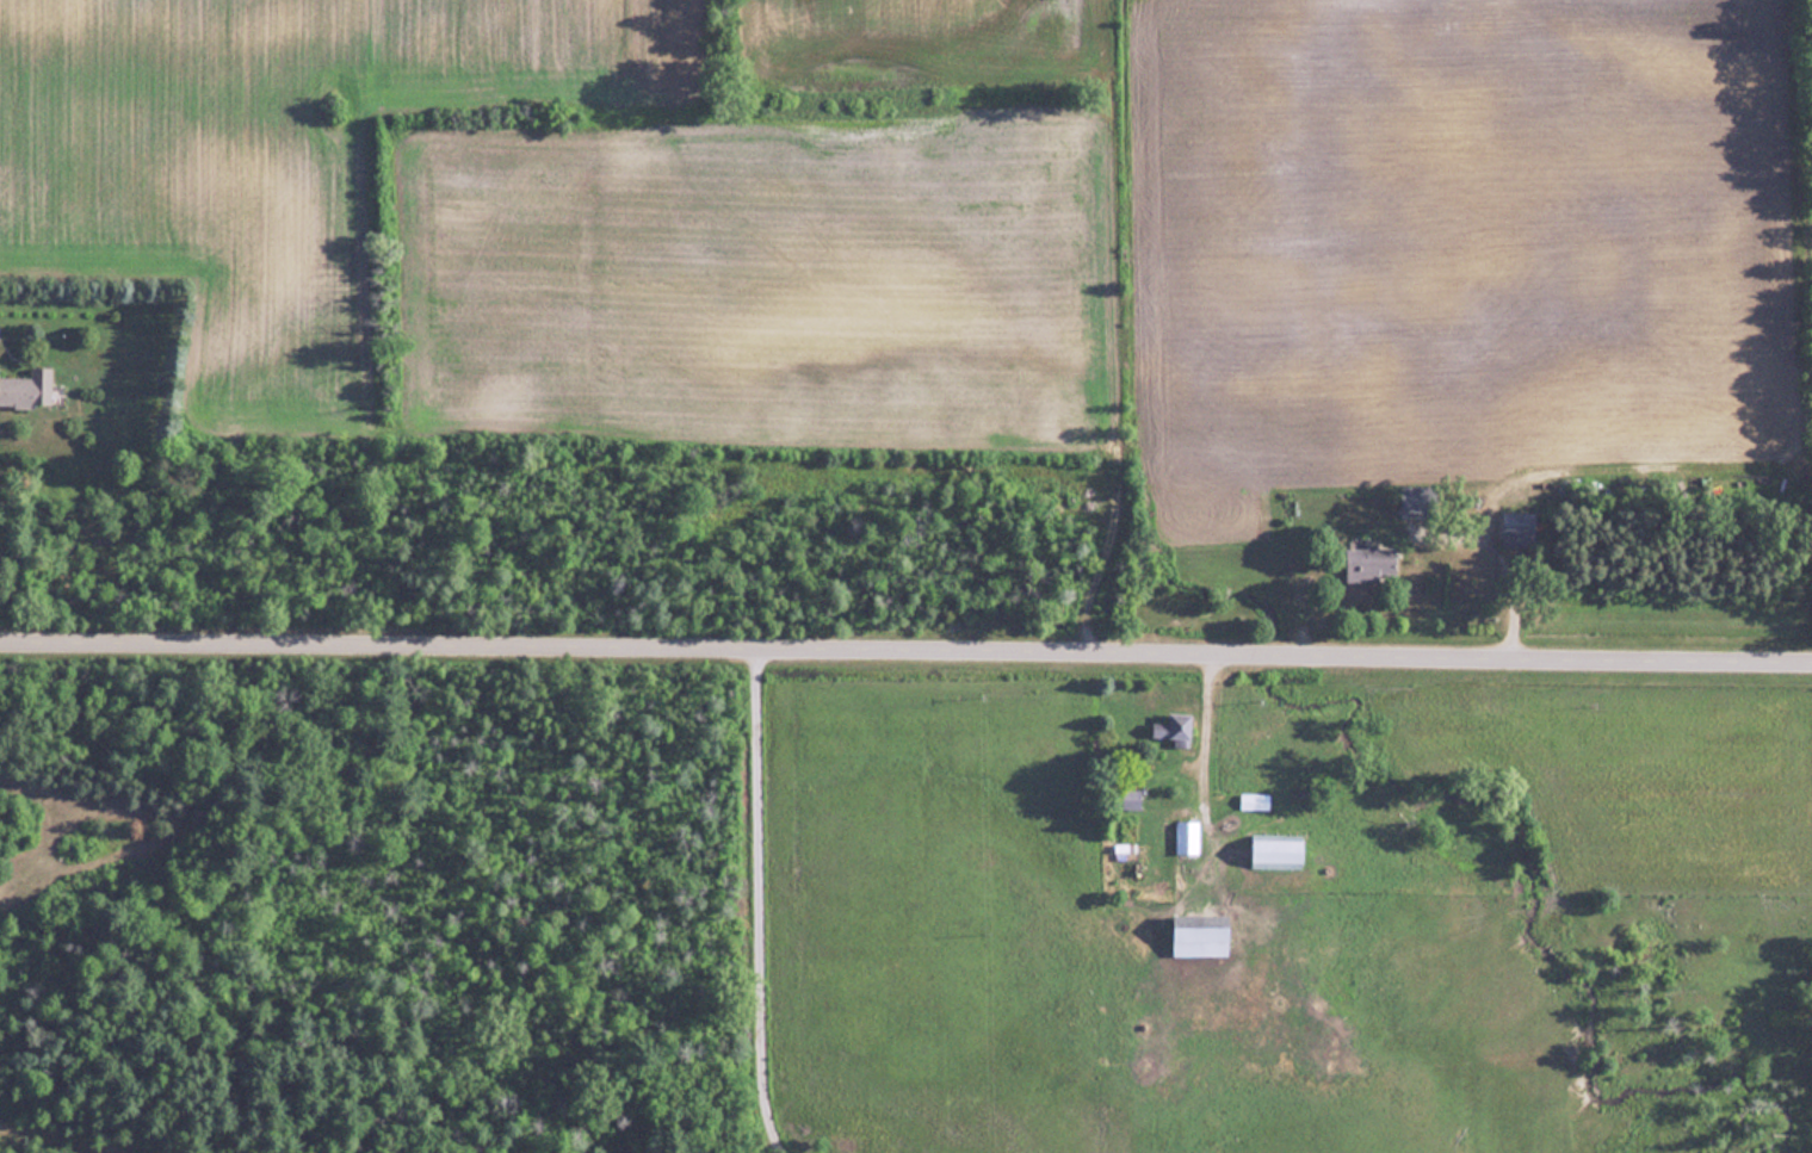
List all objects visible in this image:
building: (27, 390)
building: (1420, 501)
building: (1372, 565)
road: (905, 643)
building: (1176, 730)
building: (1254, 801)
building: (1187, 838)
building: (1279, 851)
road: (756, 895)
building: (1204, 936)

